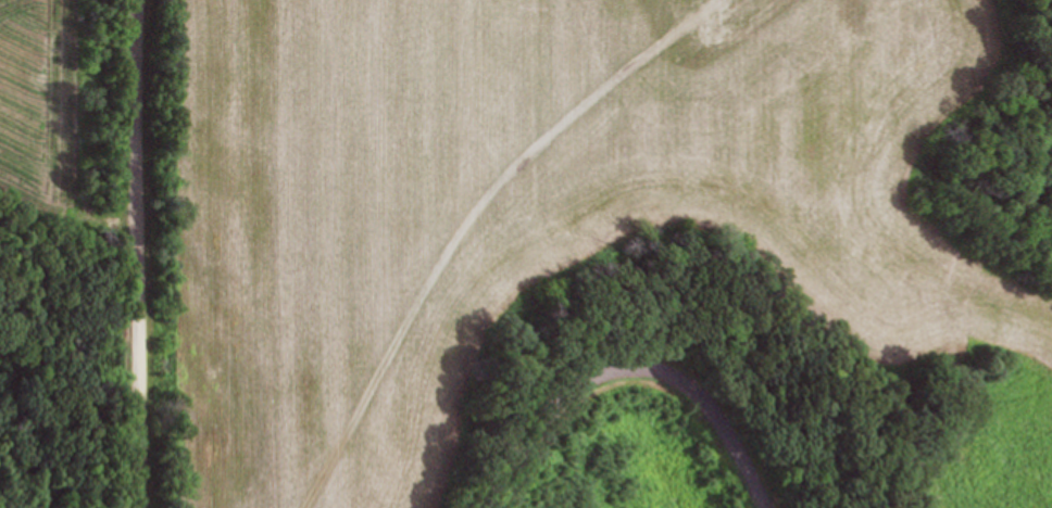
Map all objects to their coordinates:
crop: (72, 102)
crop: (542, 216)
road: (141, 254)
road: (633, 360)
crop: (114, 501)

